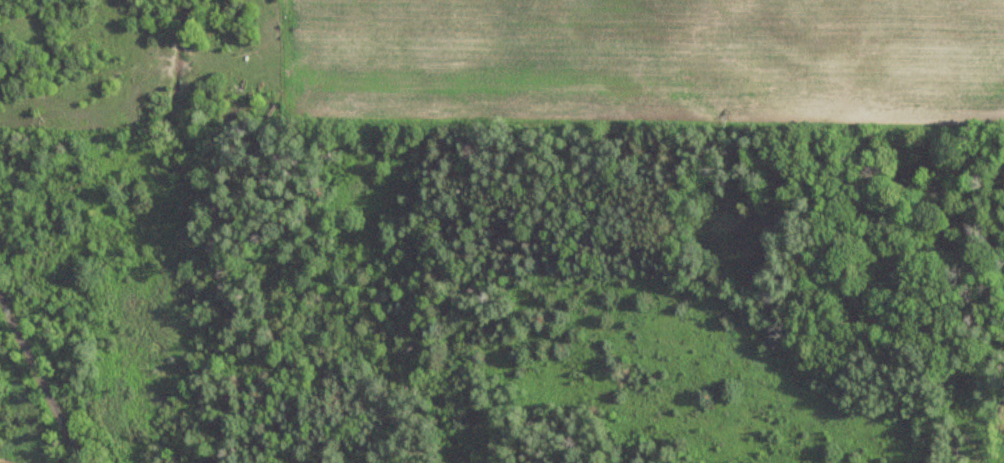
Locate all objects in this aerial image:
road: (44, 373)

